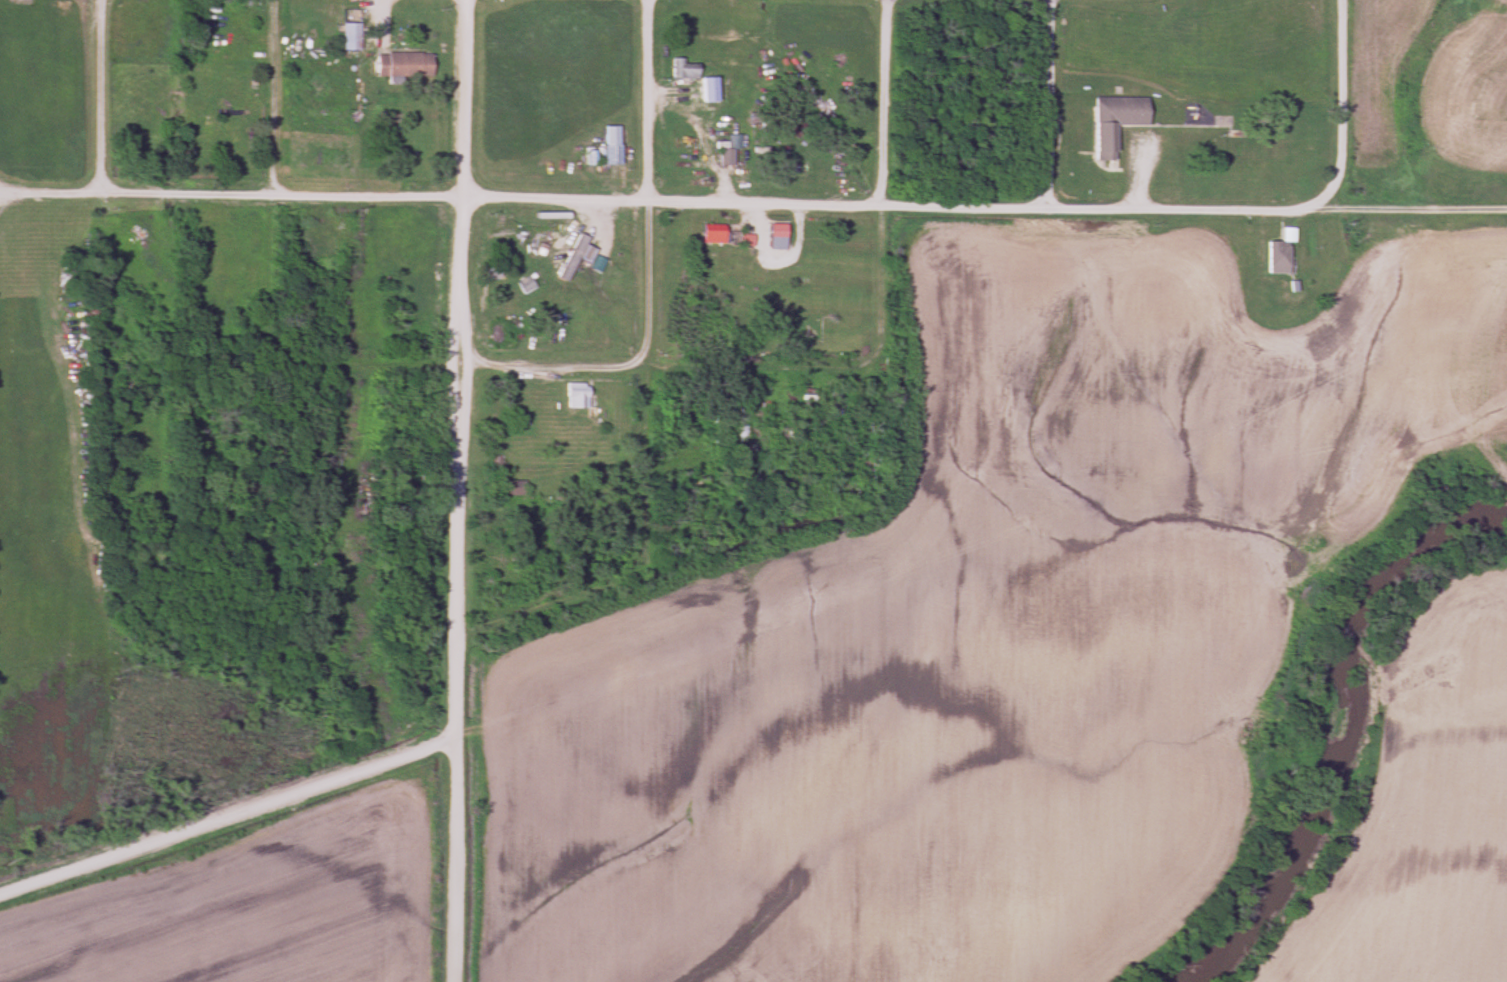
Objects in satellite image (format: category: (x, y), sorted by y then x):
building: (346, 37)
building: (397, 66)
building: (678, 70)
road: (273, 95)
road: (98, 96)
road: (1054, 103)
road: (1348, 112)
building: (1111, 123)
building: (719, 156)
road: (654, 183)
road: (885, 186)
road: (655, 200)
building: (772, 233)
building: (706, 235)
building: (741, 242)
building: (568, 259)
building: (1273, 260)
building: (807, 331)
road: (669, 366)
building: (571, 397)
building: (834, 404)
road: (455, 490)
road: (226, 816)

